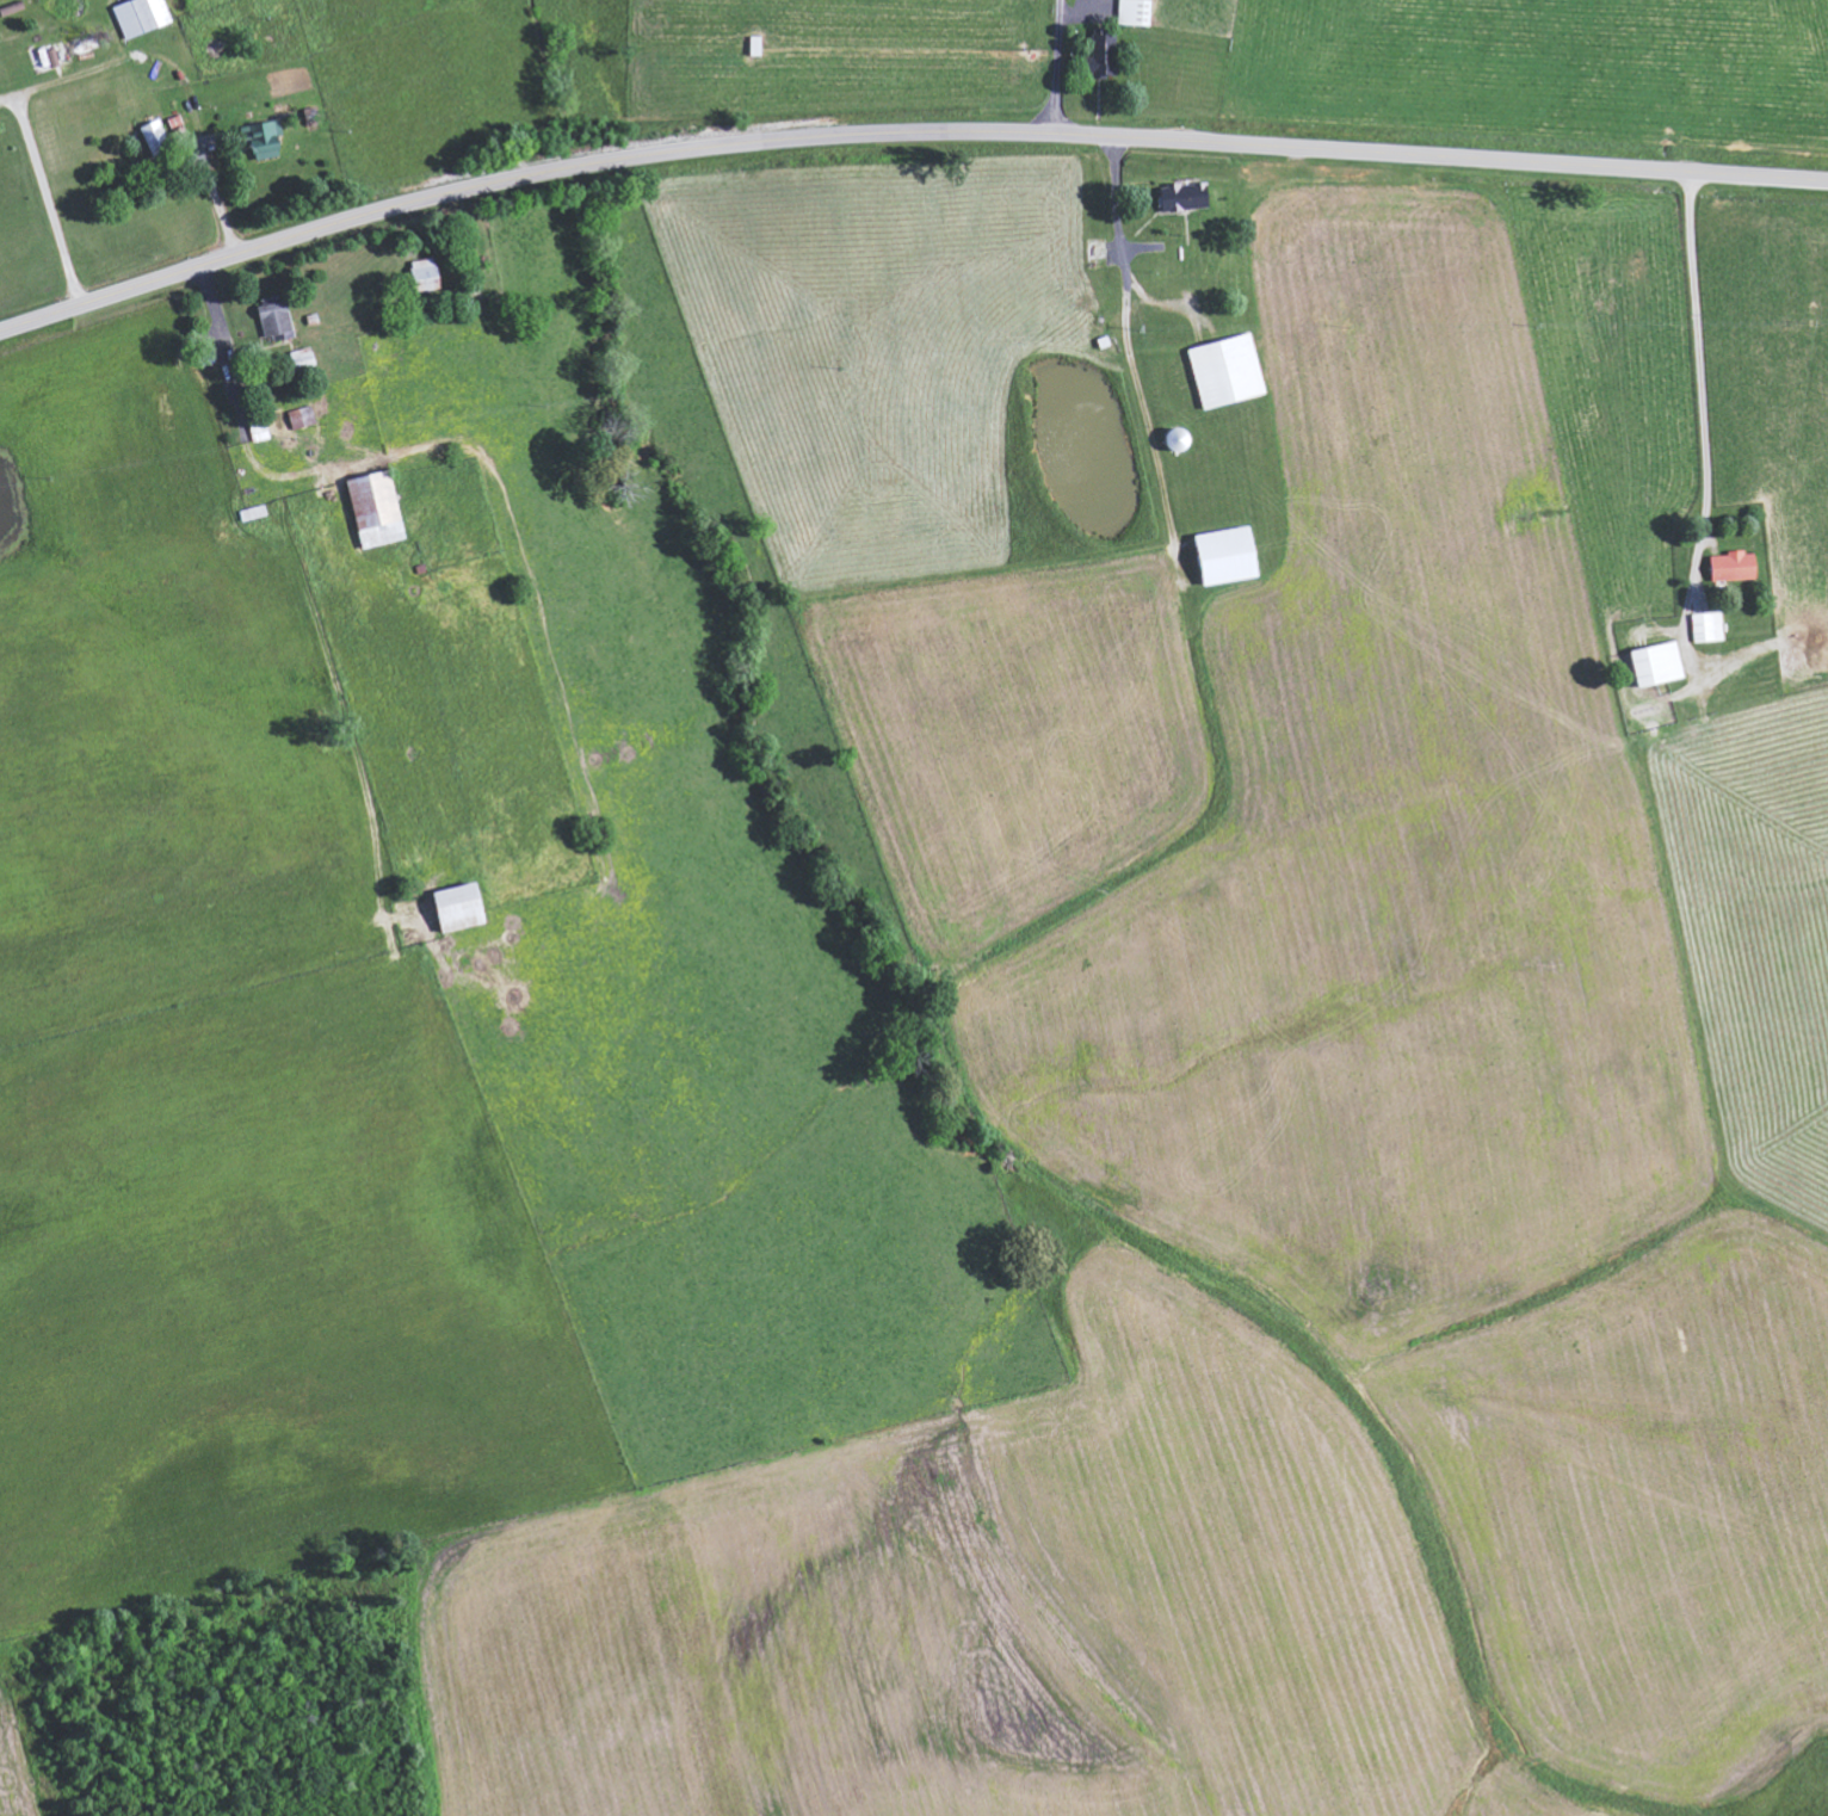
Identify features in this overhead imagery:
building: (1137, 12)
building: (142, 16)
building: (1103, 57)
road: (901, 132)
building: (158, 136)
building: (266, 137)
building: (1185, 197)
building: (426, 267)
building: (1229, 370)
road: (1702, 389)
building: (303, 416)
building: (378, 508)
building: (1229, 555)
building: (1735, 566)
building: (1709, 626)
building: (1659, 663)
building: (461, 907)

